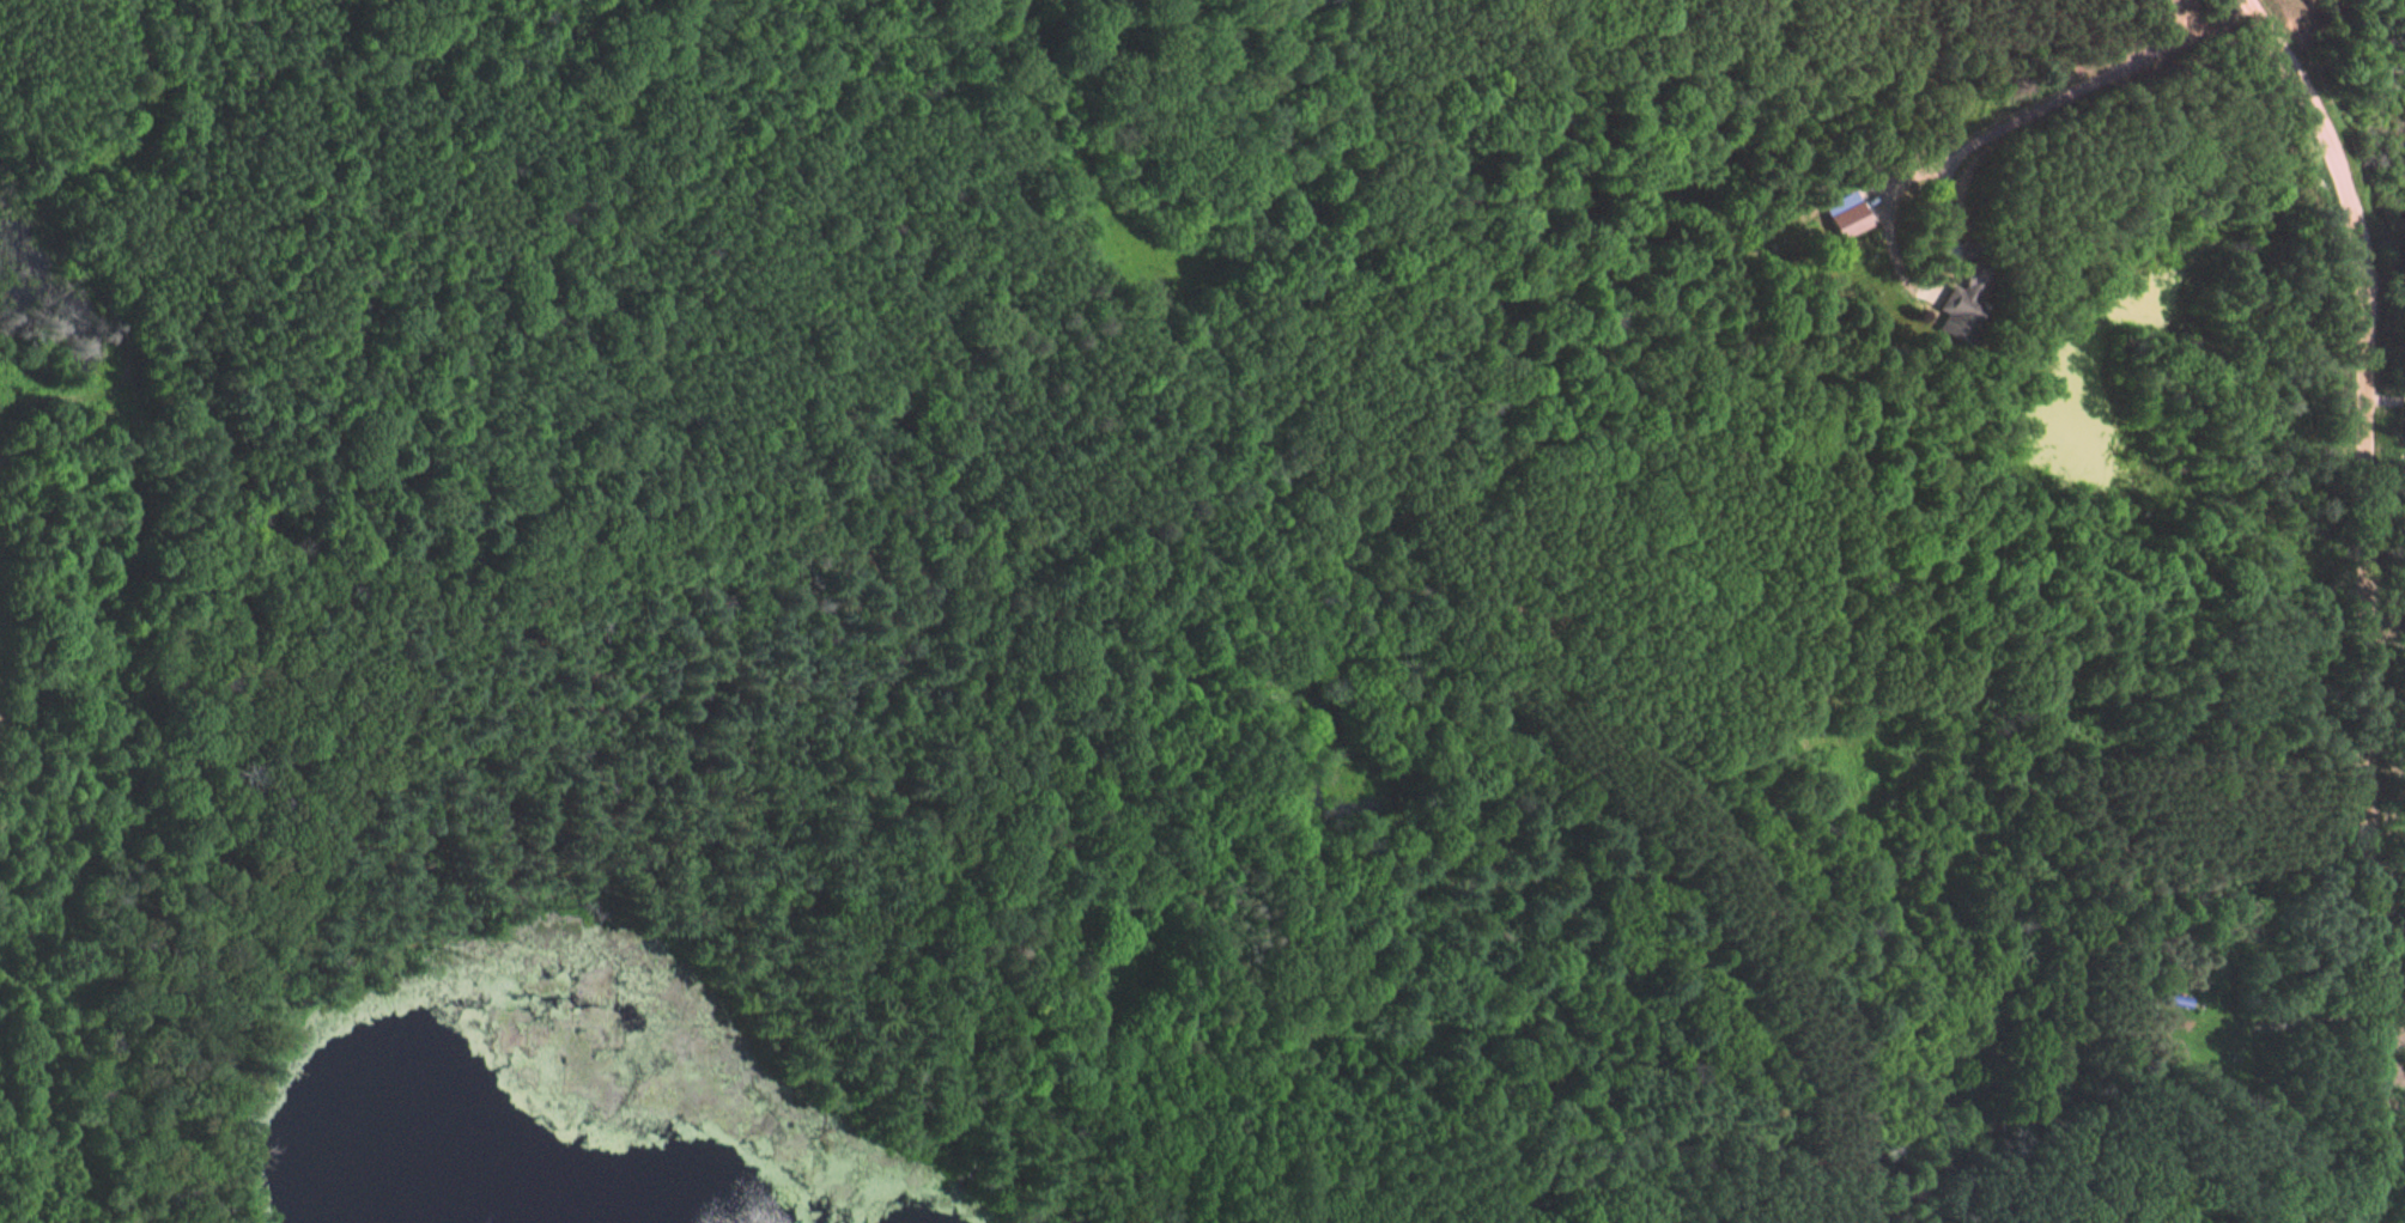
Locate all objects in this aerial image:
road: (2047, 108)
building: (1838, 215)
building: (1955, 308)
road: (2370, 597)

